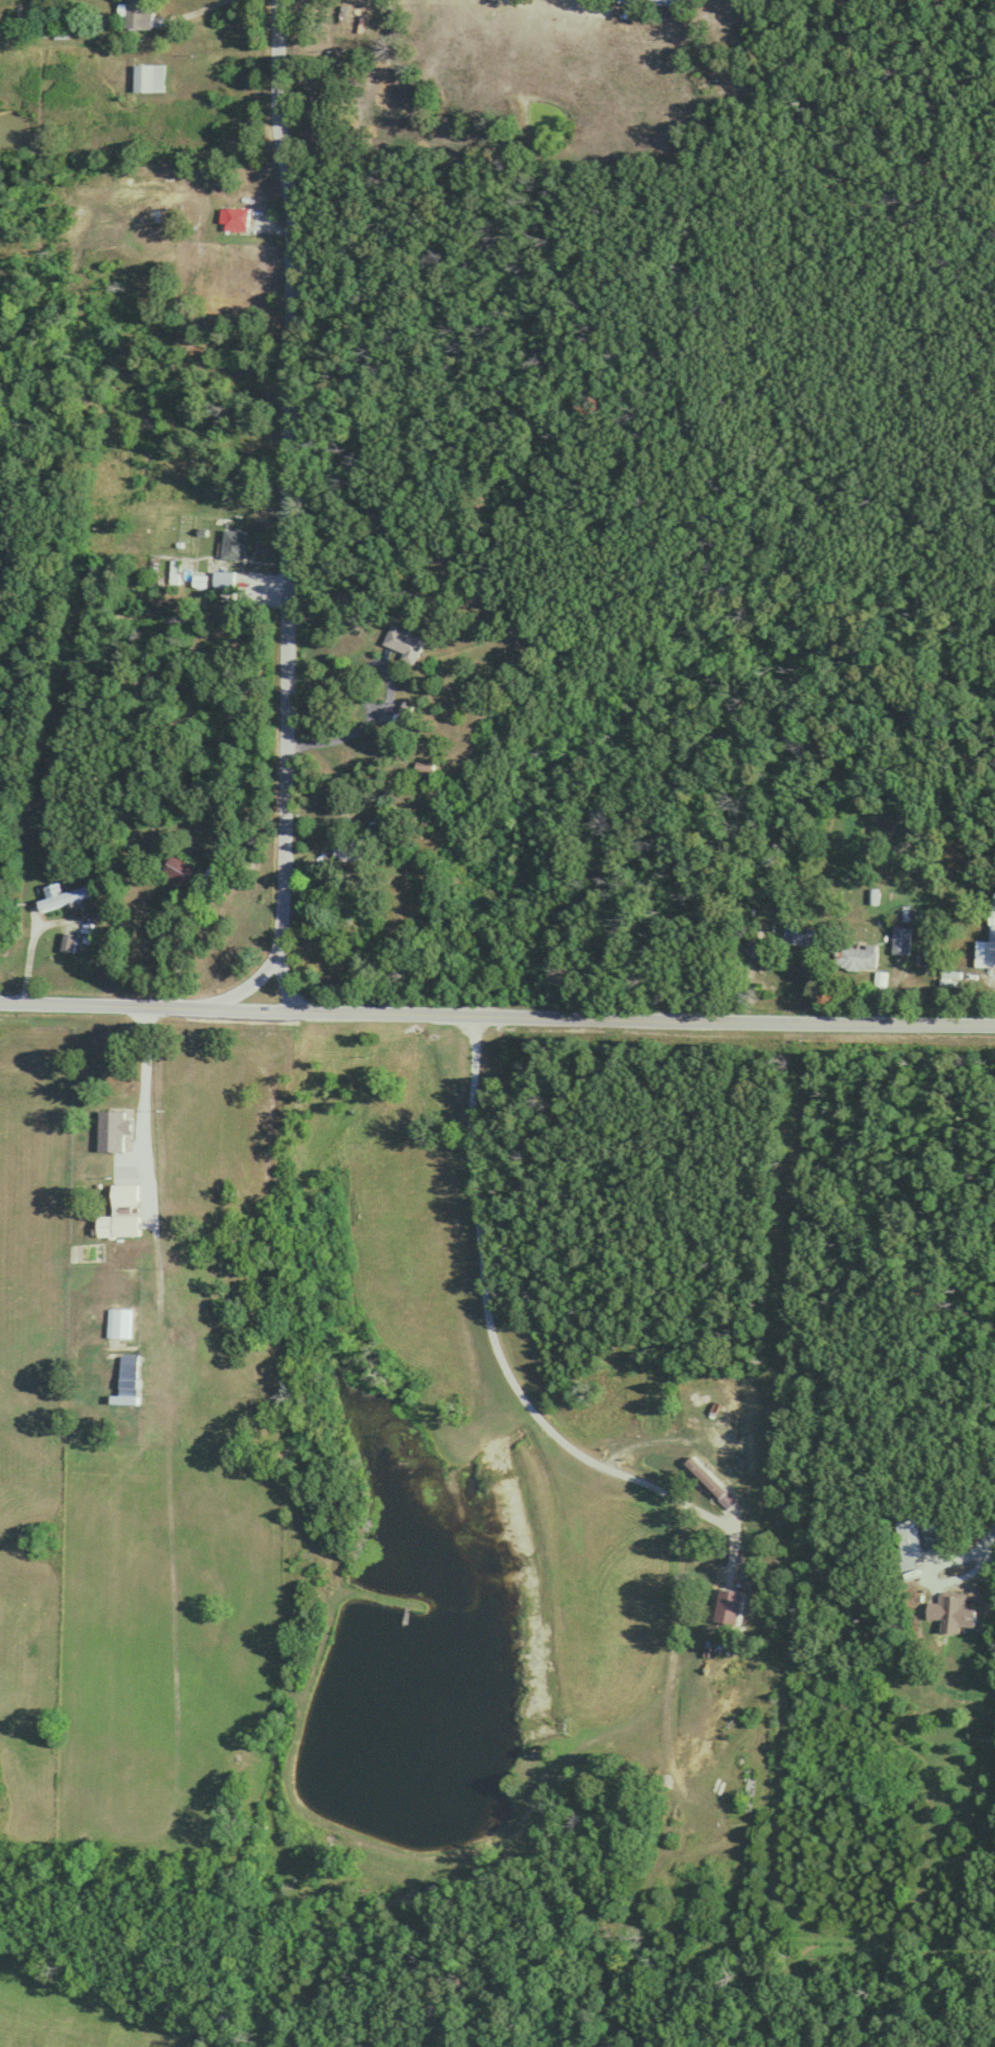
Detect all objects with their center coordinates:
building: (665, 1)
road: (194, 10)
building: (135, 14)
building: (148, 78)
building: (233, 218)
road: (283, 479)
building: (233, 543)
building: (222, 578)
building: (402, 643)
road: (382, 704)
building: (423, 766)
building: (179, 869)
building: (61, 896)
building: (799, 936)
road: (30, 939)
building: (900, 940)
building: (67, 942)
road: (177, 952)
building: (985, 952)
building: (855, 958)
road: (285, 980)
road: (249, 981)
road: (497, 1004)
road: (143, 1111)
building: (112, 1129)
building: (120, 1212)
building: (118, 1322)
building: (126, 1380)
road: (449, 1382)
building: (704, 1476)
road: (991, 1530)
building: (909, 1539)
road: (926, 1576)
building: (735, 1607)
building: (950, 1611)
building: (994, 1693)

